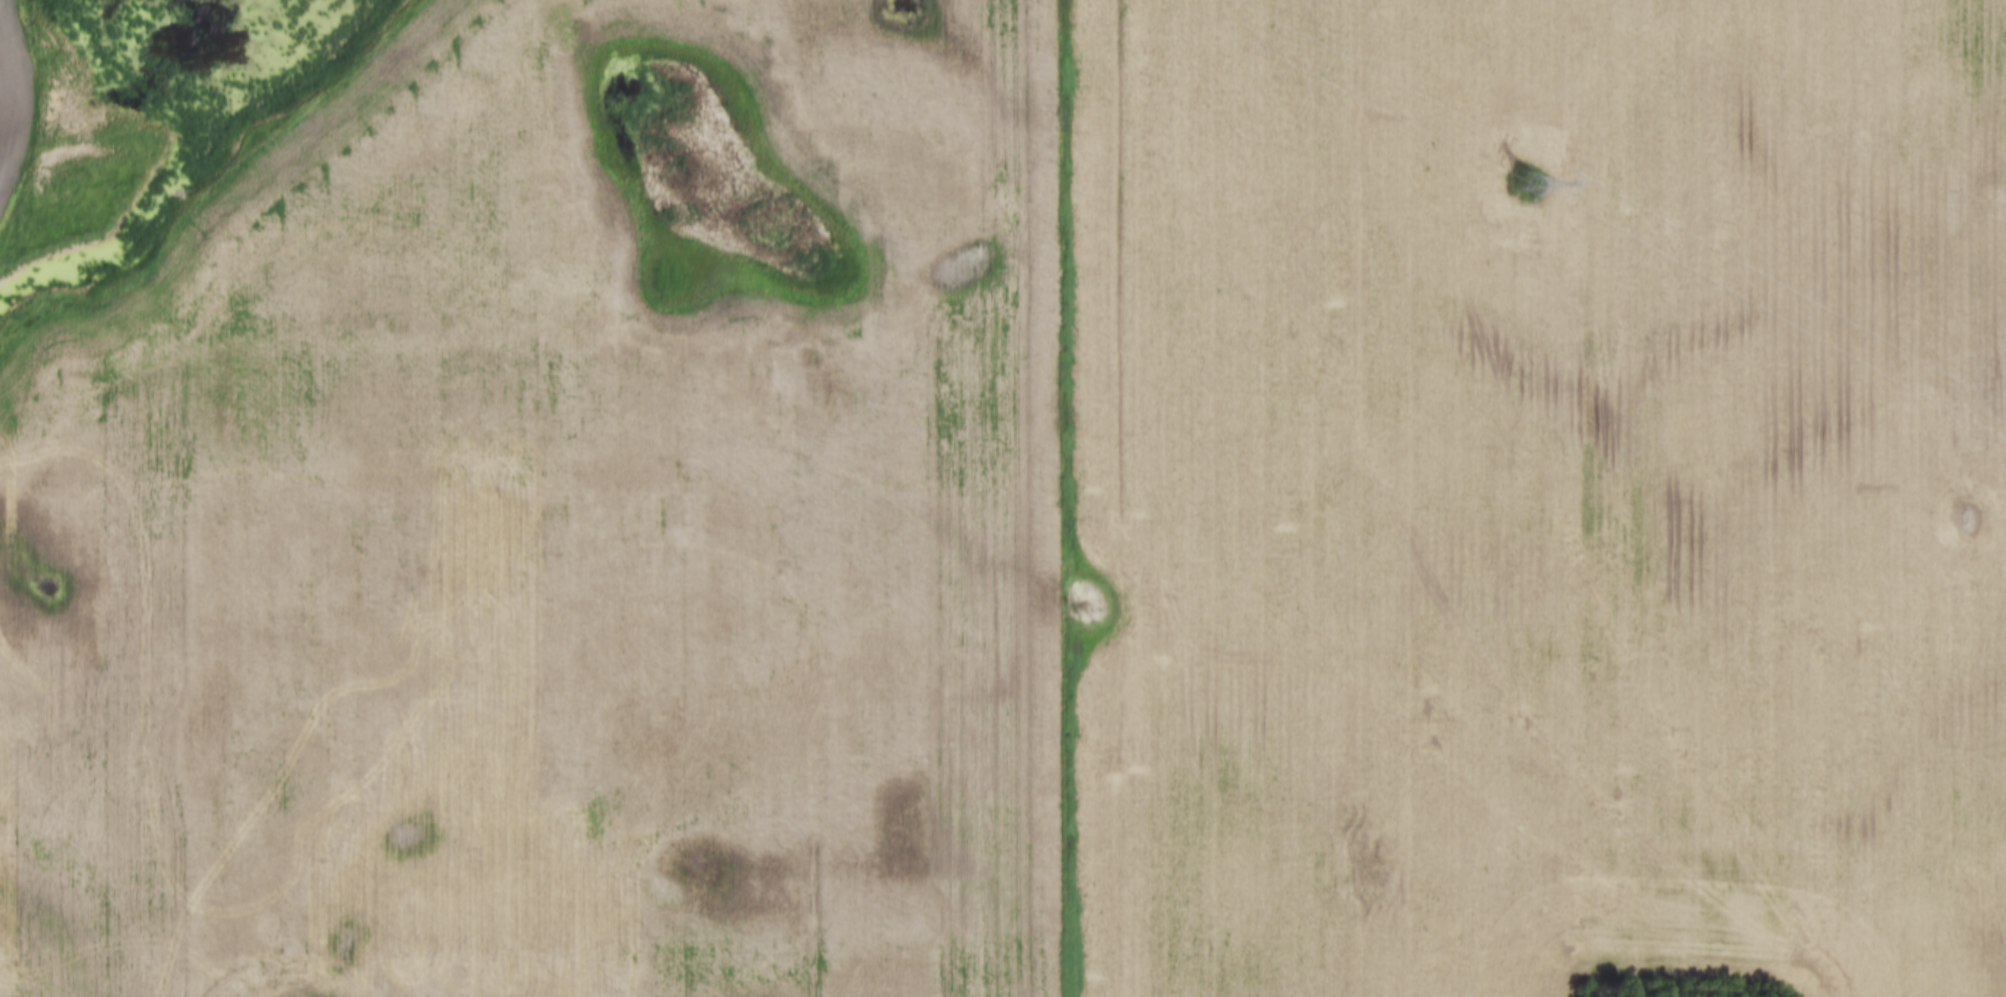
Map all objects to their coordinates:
power tower: (1538, 183)
building: (1529, 188)

